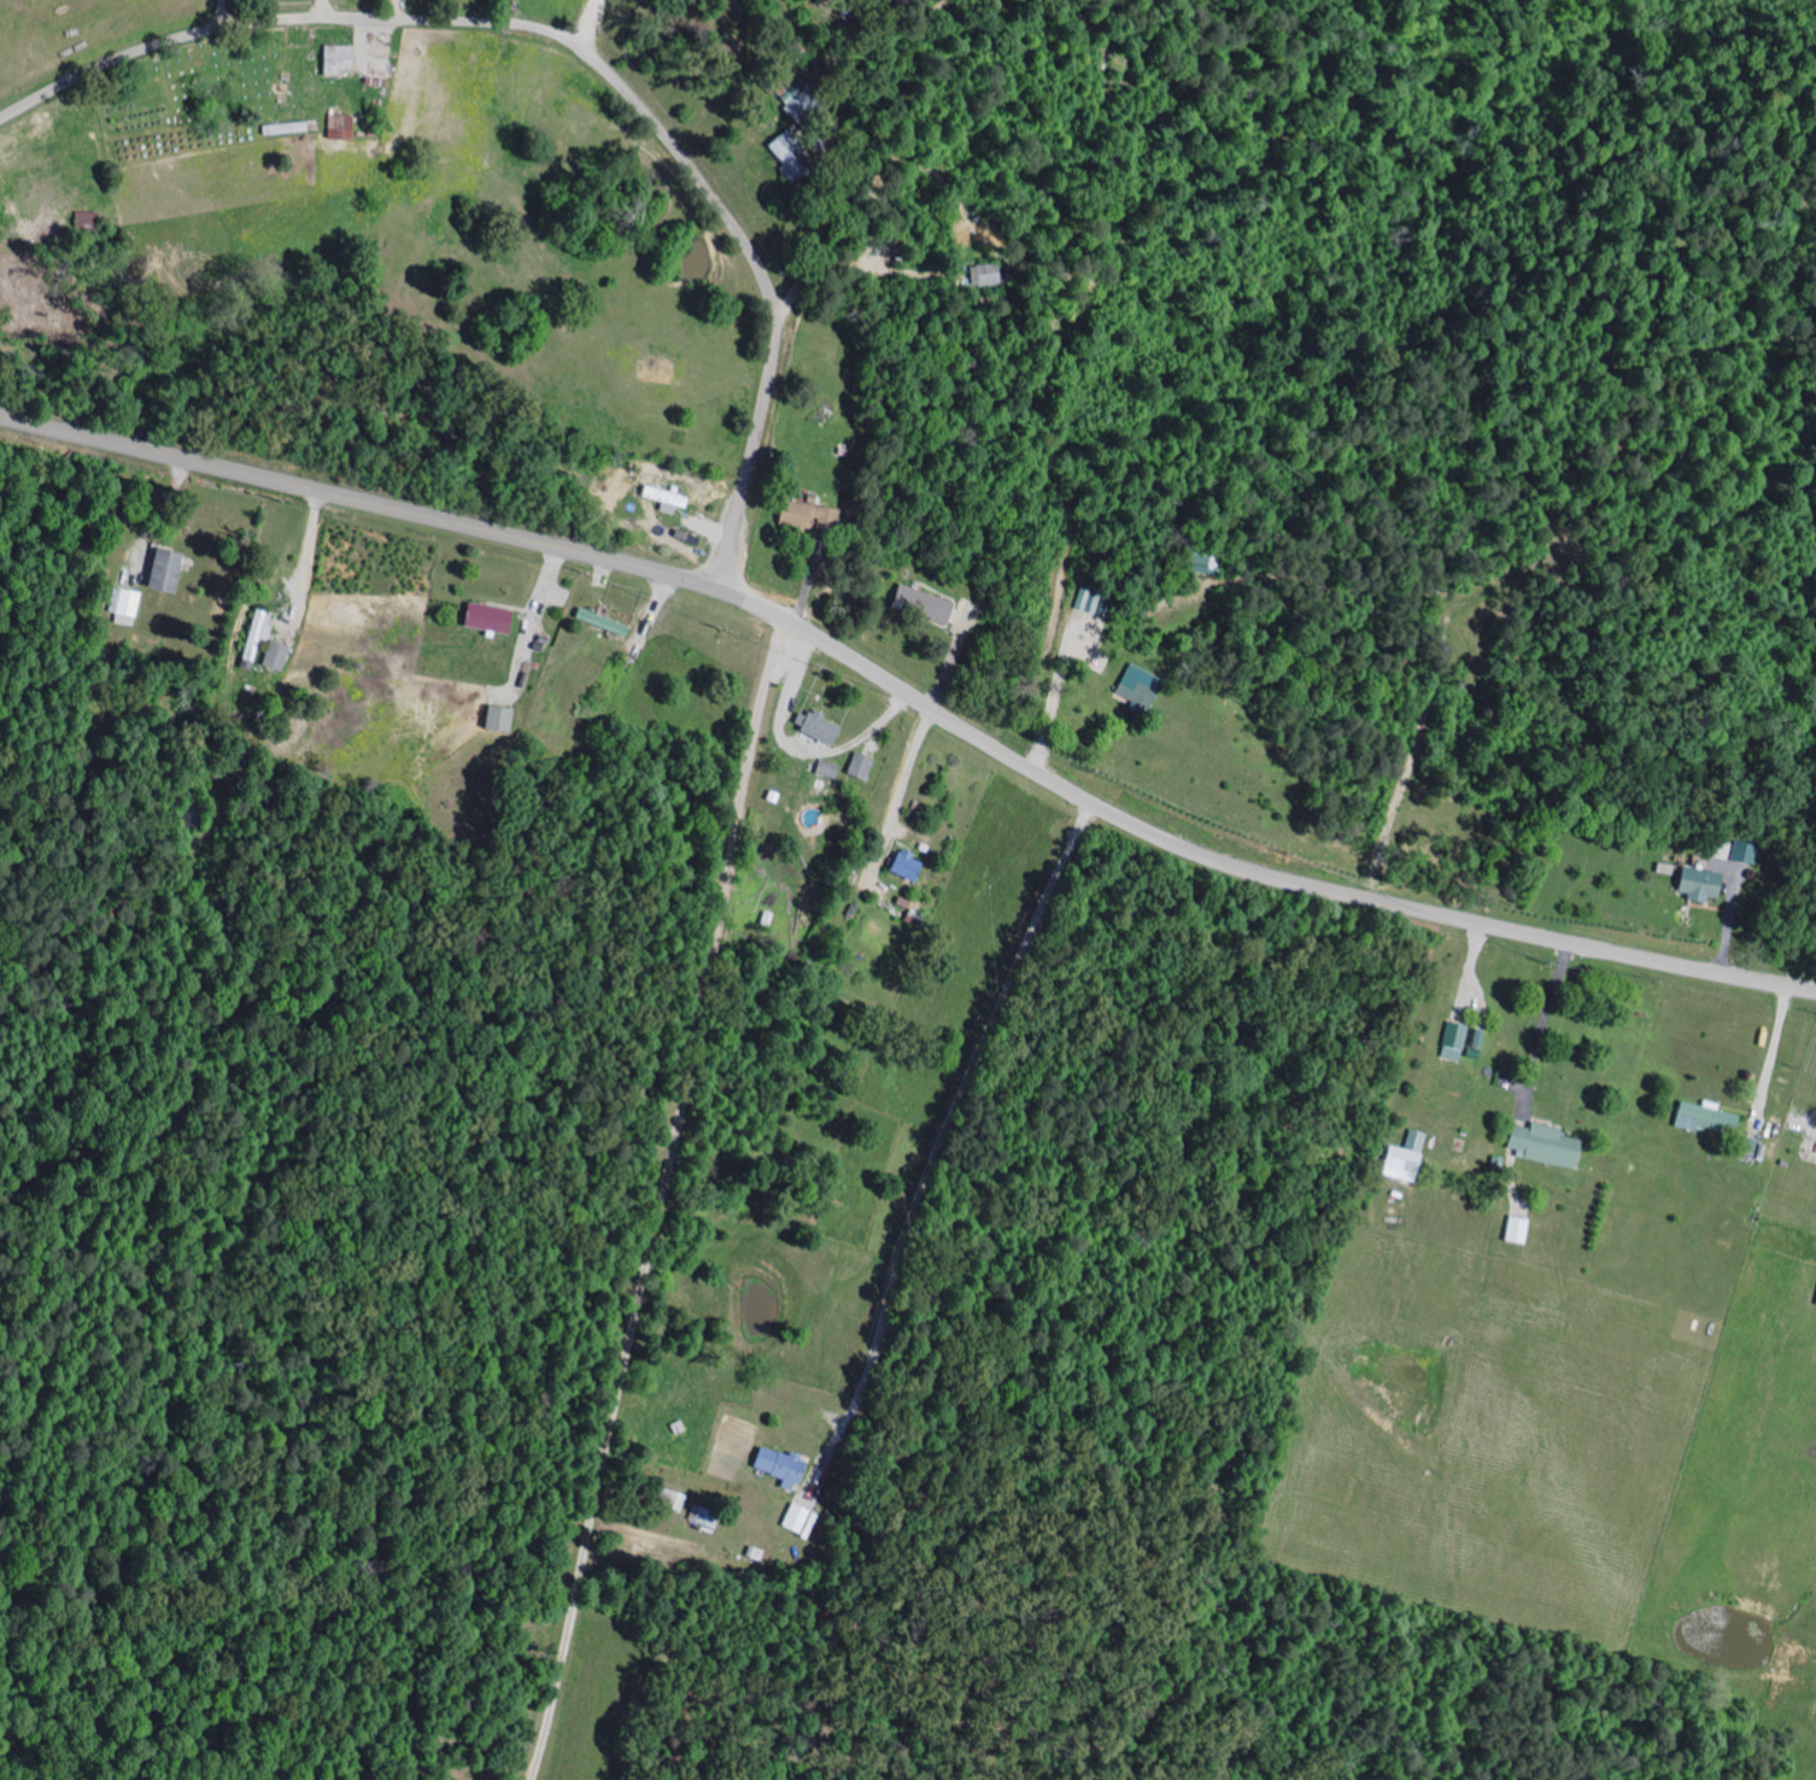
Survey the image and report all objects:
road: (399, 11)
road: (224, 14)
road: (591, 27)
road: (581, 53)
building: (341, 59)
building: (380, 65)
building: (804, 104)
building: (342, 127)
building: (792, 158)
building: (88, 219)
building: (662, 370)
building: (666, 497)
road: (160, 515)
building: (815, 516)
road: (440, 520)
road: (309, 563)
building: (166, 570)
building: (1089, 599)
building: (926, 605)
building: (127, 607)
building: (490, 619)
building: (256, 637)
building: (276, 656)
building: (1141, 686)
road: (1053, 695)
building: (500, 719)
building: (819, 727)
road: (796, 751)
building: (861, 766)
building: (827, 769)
road: (904, 779)
building: (910, 866)
road: (1319, 884)
building: (1706, 885)
road: (1547, 1021)
building: (1455, 1041)
road: (1770, 1056)
building: (1710, 1119)
road: (943, 1129)
road: (1814, 1144)
building: (1550, 1146)
building: (1406, 1157)
road: (656, 1200)
building: (1518, 1230)
building: (1815, 1299)
building: (783, 1465)
building: (704, 1516)
building: (798, 1520)

